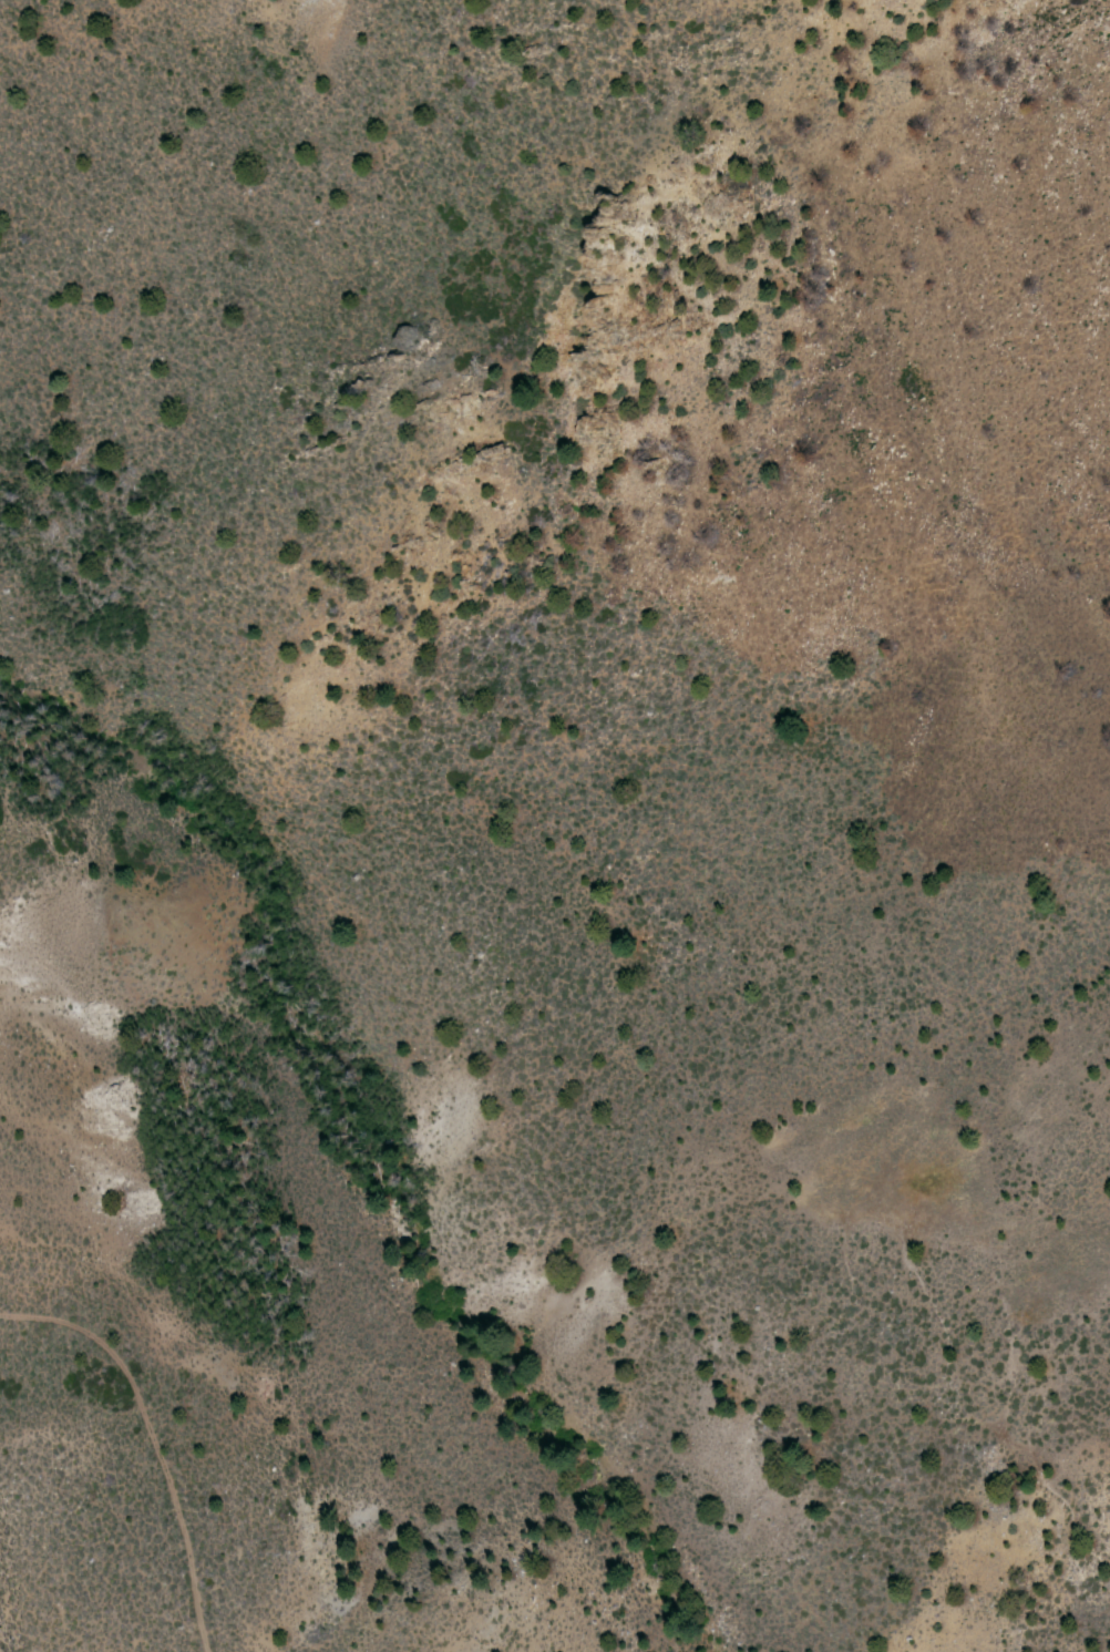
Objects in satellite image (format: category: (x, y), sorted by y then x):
road: (158, 1437)

